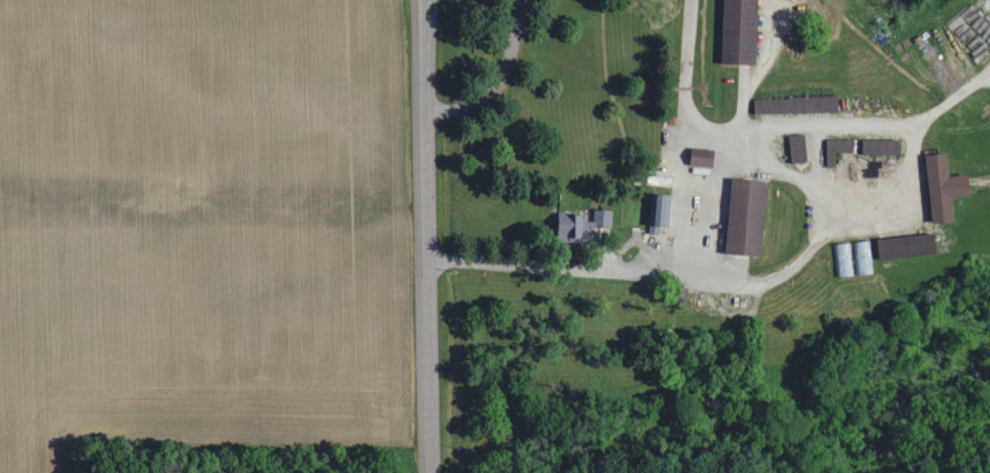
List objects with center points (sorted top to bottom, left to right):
road: (420, 4)
building: (739, 31)
road: (760, 72)
road: (499, 80)
road: (951, 98)
building: (795, 104)
road: (908, 127)
building: (881, 146)
building: (797, 147)
building: (836, 149)
building: (703, 156)
road: (985, 179)
building: (945, 188)
building: (660, 209)
building: (746, 217)
road: (820, 224)
building: (584, 227)
road: (424, 239)
building: (907, 245)
road: (671, 258)

